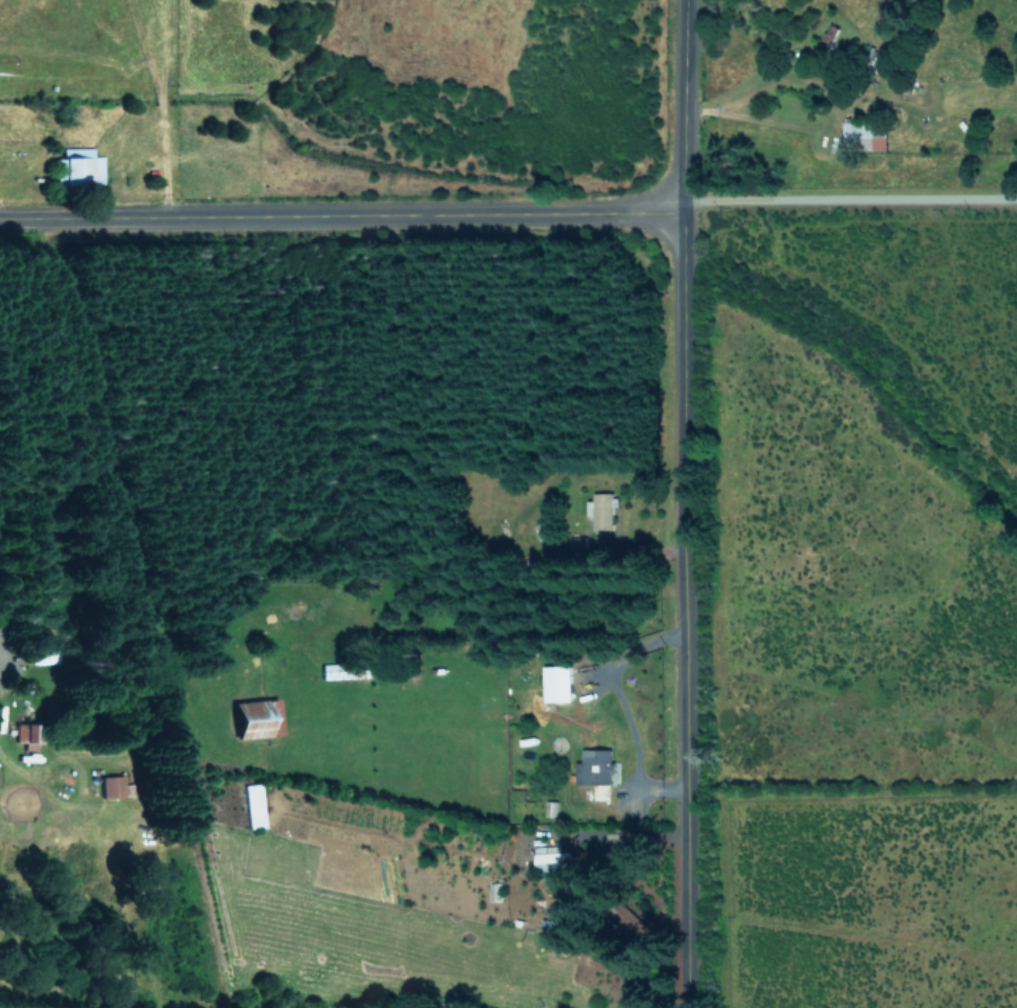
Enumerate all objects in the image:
road: (826, 120)
building: (864, 135)
building: (80, 164)
road: (843, 200)
road: (335, 206)
road: (674, 503)
building: (601, 510)
building: (578, 542)
building: (555, 682)
building: (255, 718)
building: (25, 735)
building: (593, 766)
building: (111, 785)
building: (253, 805)
building: (551, 860)

